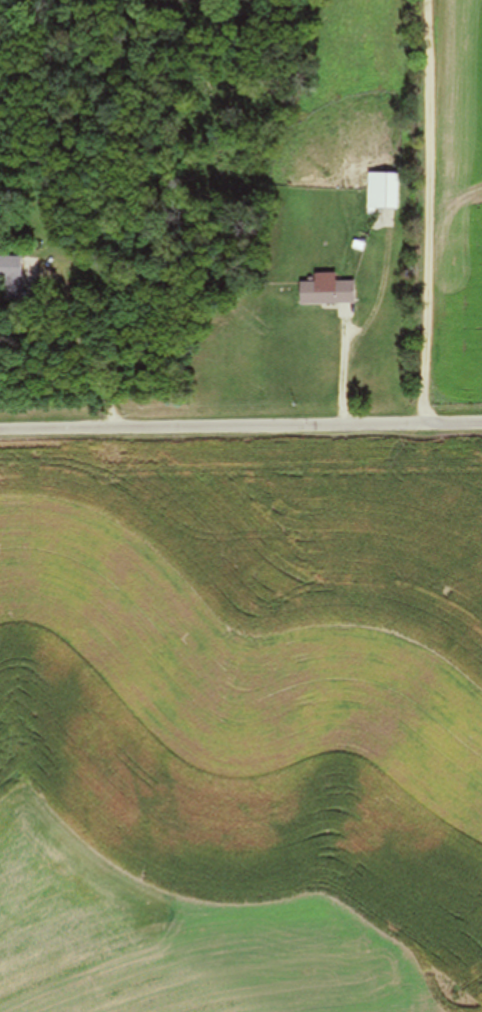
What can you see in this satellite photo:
building: (382, 192)
road: (433, 211)
building: (11, 278)
building: (326, 293)
road: (241, 425)

